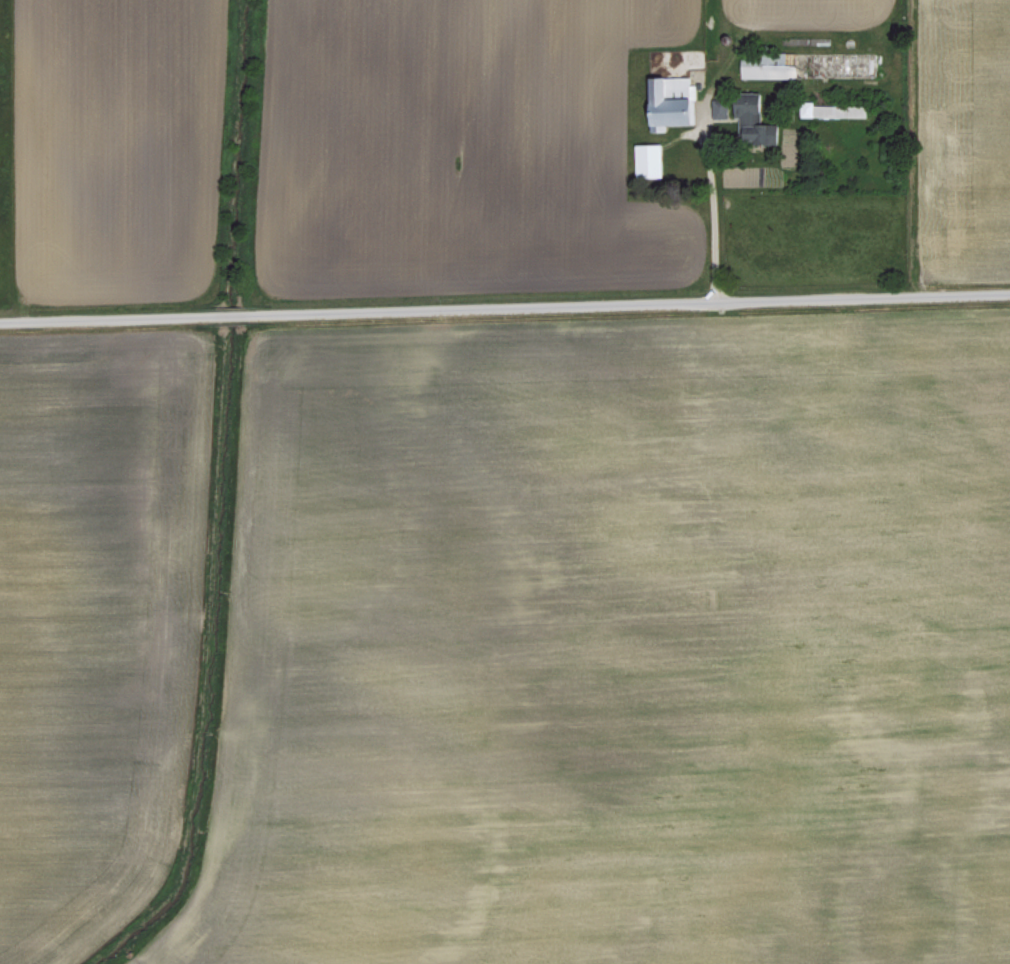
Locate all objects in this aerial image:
building: (851, 63)
building: (775, 66)
building: (673, 101)
building: (721, 107)
building: (651, 158)
road: (711, 210)
road: (504, 306)

